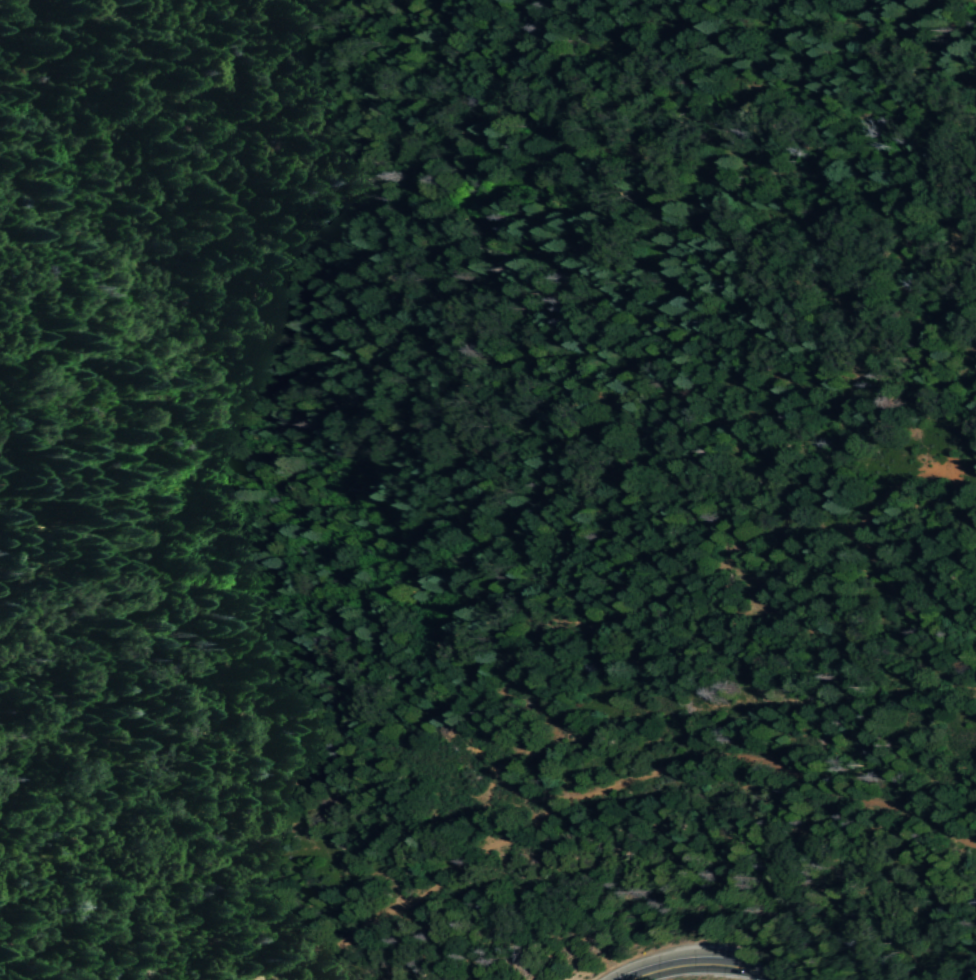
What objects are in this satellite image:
road: (899, 485)
road: (903, 631)
road: (491, 770)
road: (740, 871)
road: (427, 884)
road: (704, 963)

